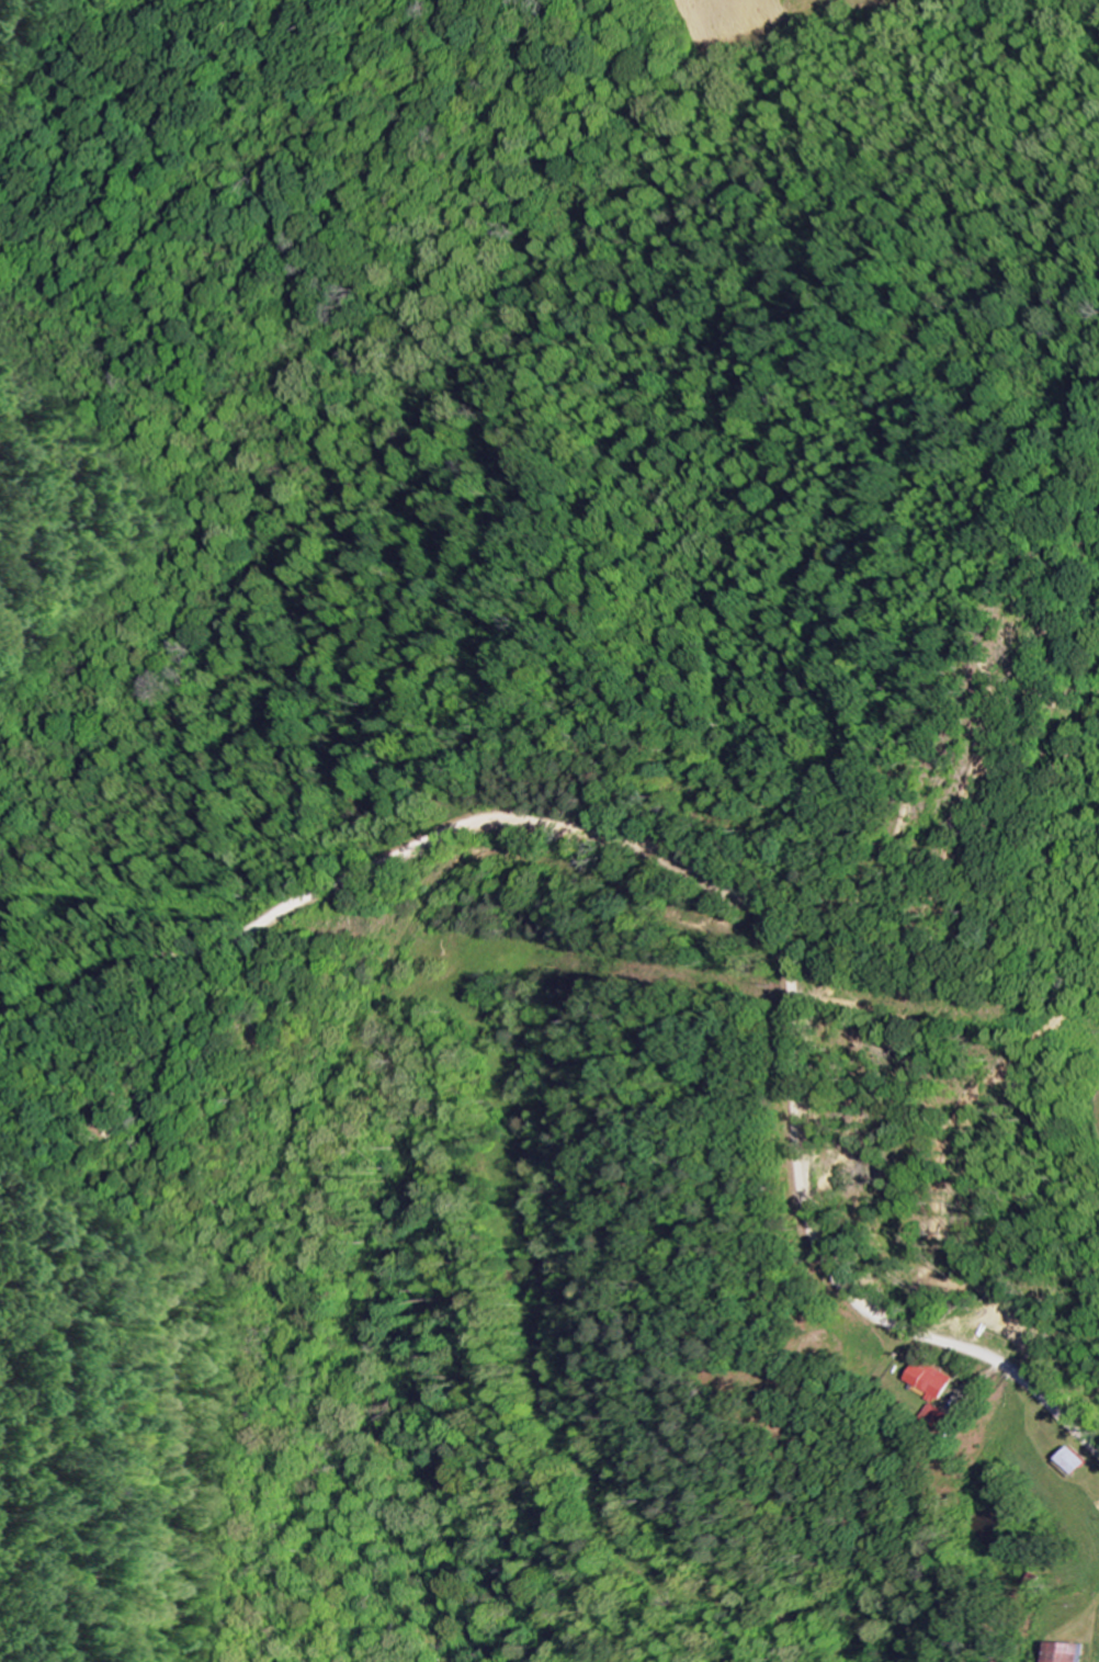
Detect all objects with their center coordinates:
road: (718, 875)
building: (942, 1379)
building: (1084, 1459)
building: (1080, 1651)

